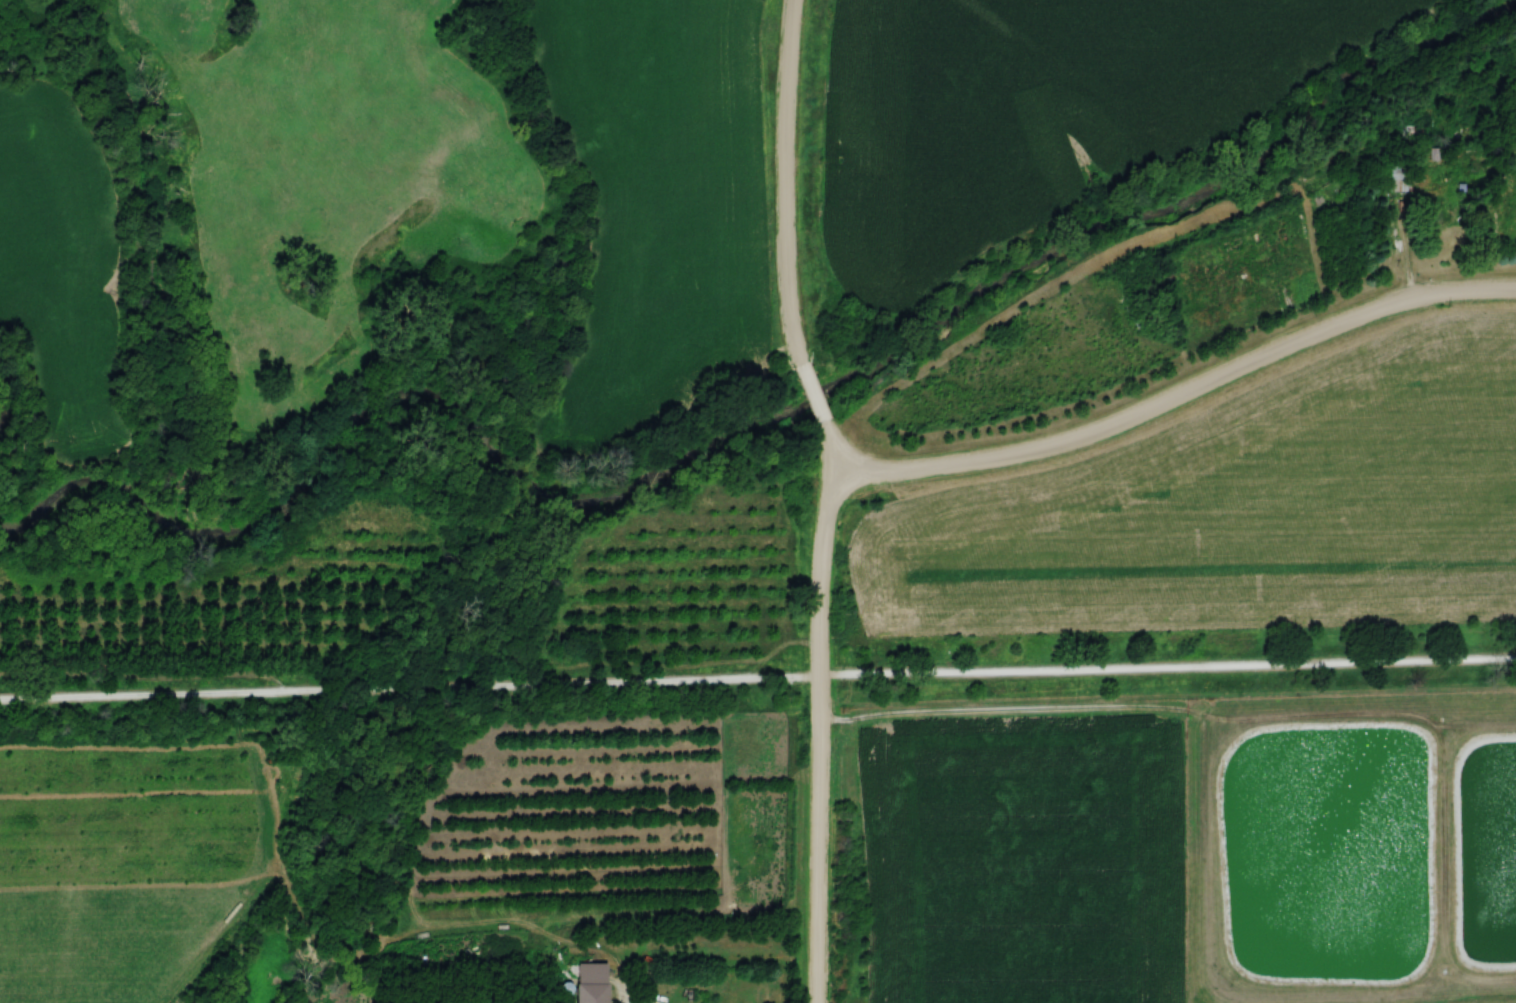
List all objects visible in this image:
building: (1396, 176)
road: (787, 180)
building: (1441, 212)
road: (817, 391)
road: (1178, 394)
river: (776, 411)
crop: (1236, 507)
road: (757, 680)
road: (819, 712)
building: (588, 983)

